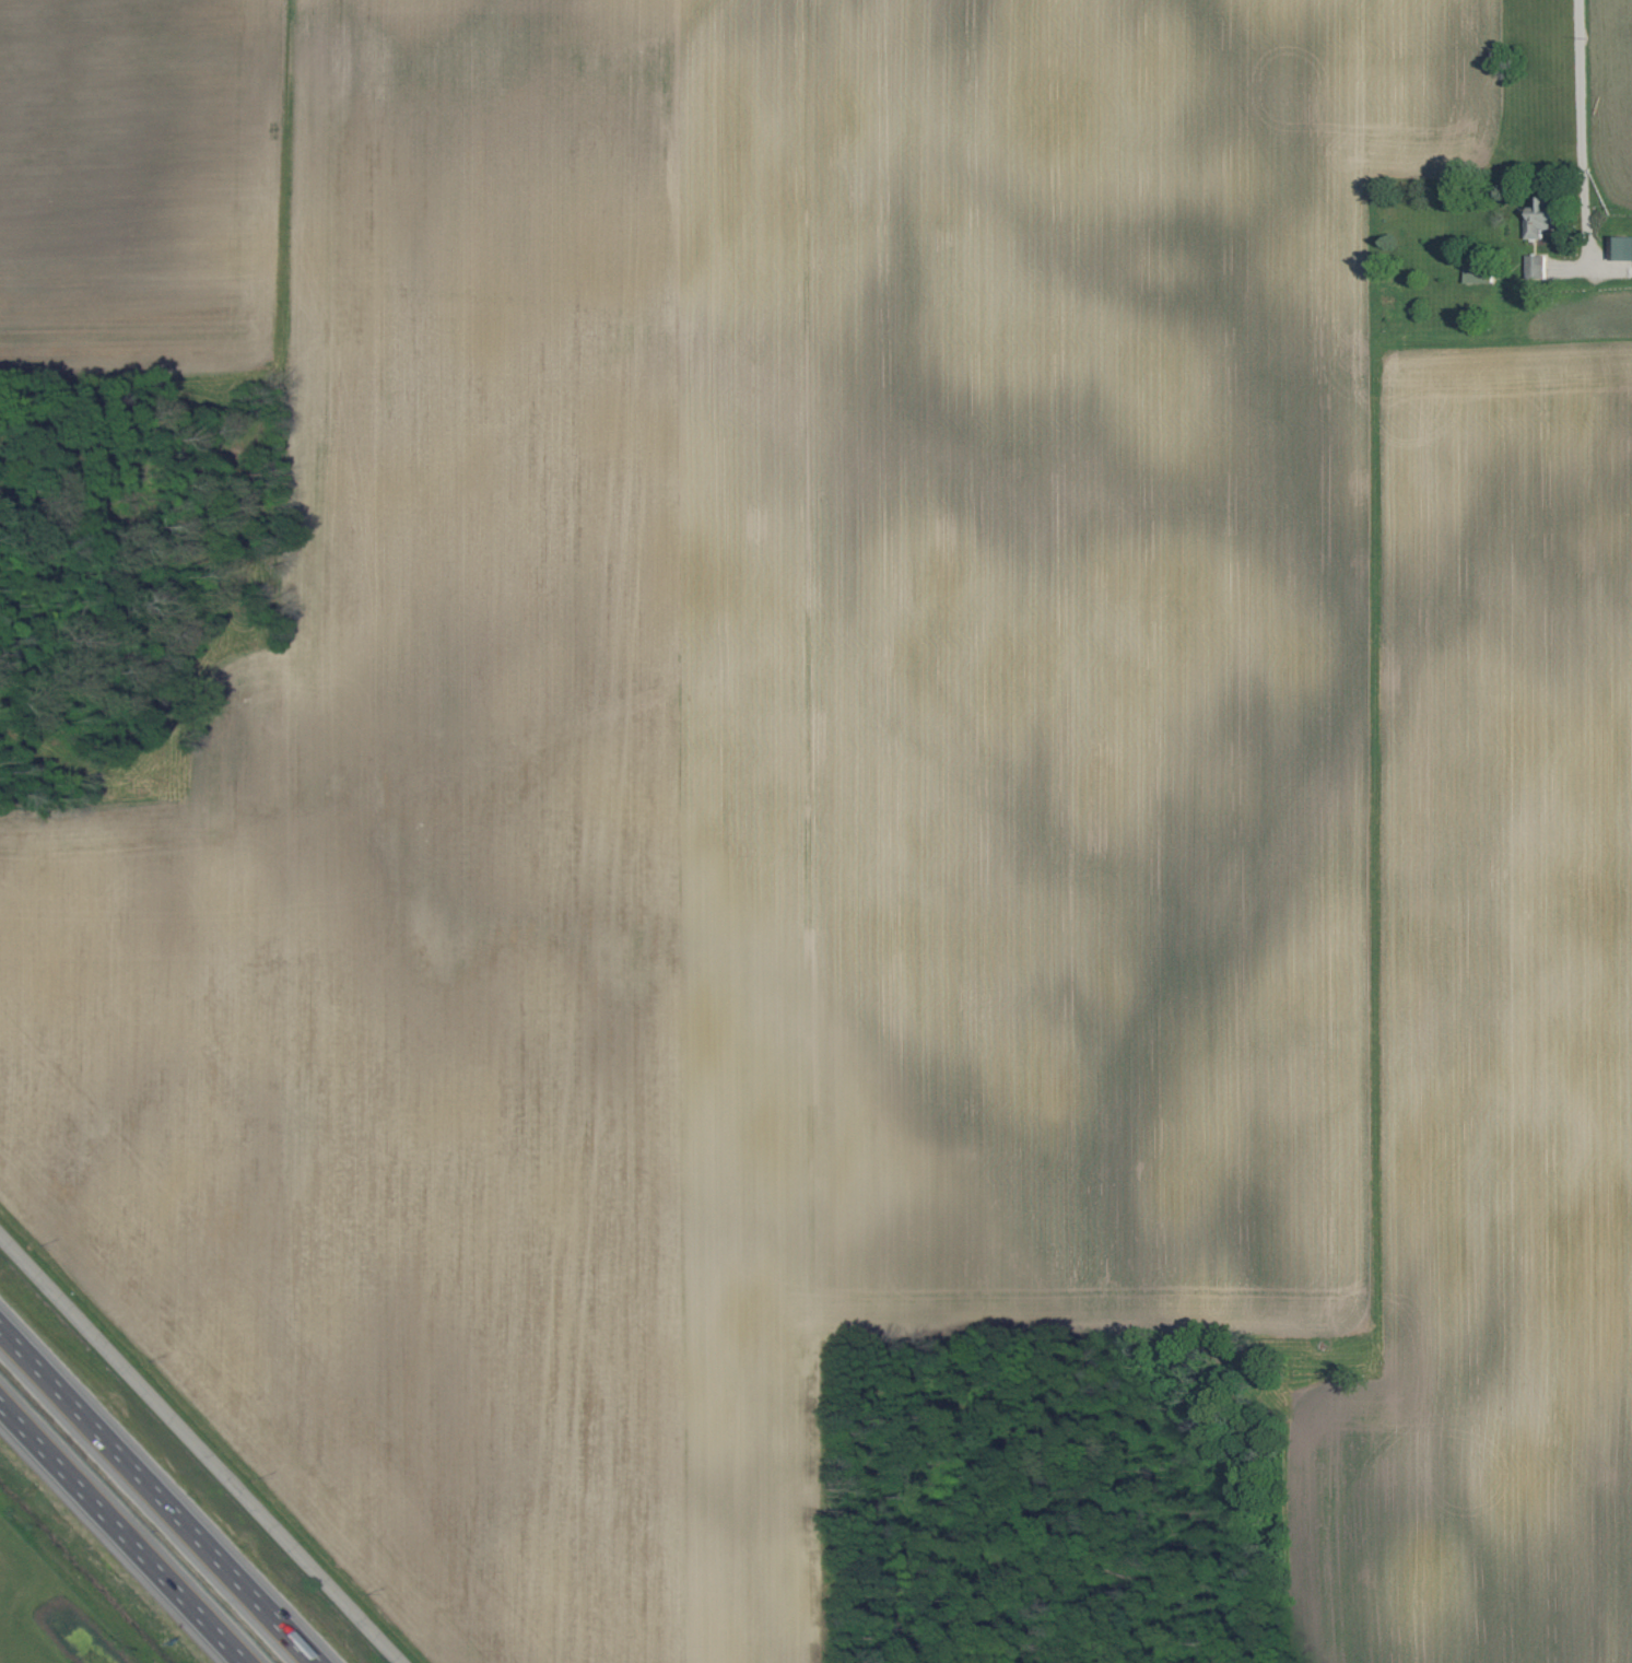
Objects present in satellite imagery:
road: (1583, 124)
building: (1545, 219)
building: (1621, 248)
building: (1538, 267)
road: (201, 1449)
road: (160, 1494)
road: (119, 1536)

